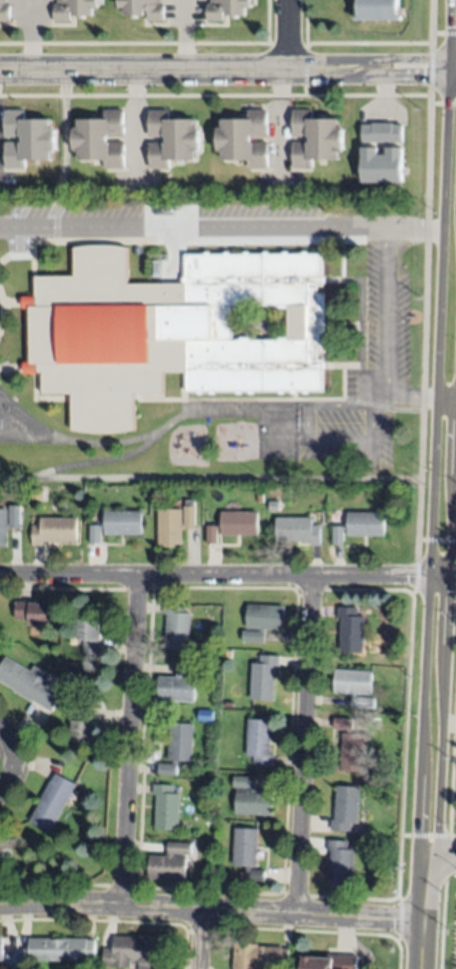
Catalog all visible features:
building: (72, 8)
building: (378, 8)
building: (5, 10)
building: (135, 10)
building: (236, 10)
road: (442, 32)
road: (31, 36)
road: (185, 36)
road: (289, 36)
road: (224, 72)
road: (452, 73)
road: (442, 104)
road: (133, 127)
road: (279, 127)
building: (383, 130)
building: (28, 136)
building: (316, 136)
building: (101, 137)
building: (171, 137)
building: (244, 137)
road: (61, 151)
building: (382, 162)
road: (191, 228)
road: (413, 229)
road: (423, 239)
building: (175, 330)
road: (385, 347)
road: (432, 431)
road: (70, 442)
road: (107, 460)
road: (208, 478)
building: (37, 492)
building: (274, 505)
building: (116, 525)
building: (10, 526)
building: (173, 526)
building: (233, 526)
building: (360, 526)
road: (415, 526)
building: (54, 531)
building: (297, 531)
road: (223, 574)
building: (33, 613)
building: (263, 621)
building: (177, 627)
building: (351, 630)
road: (444, 631)
building: (90, 636)
building: (263, 678)
building: (29, 684)
building: (179, 685)
building: (355, 686)
building: (84, 726)
road: (131, 738)
building: (259, 742)
road: (306, 746)
building: (178, 747)
building: (351, 747)
road: (5, 760)
building: (392, 774)
building: (251, 798)
building: (52, 802)
building: (166, 808)
building: (345, 808)
building: (246, 852)
building: (1, 853)
road: (441, 860)
building: (170, 863)
building: (340, 864)
road: (212, 910)
road: (425, 915)
road: (200, 939)
building: (1, 950)
building: (61, 950)
building: (134, 952)
building: (259, 957)
building: (16, 959)
building: (331, 961)

